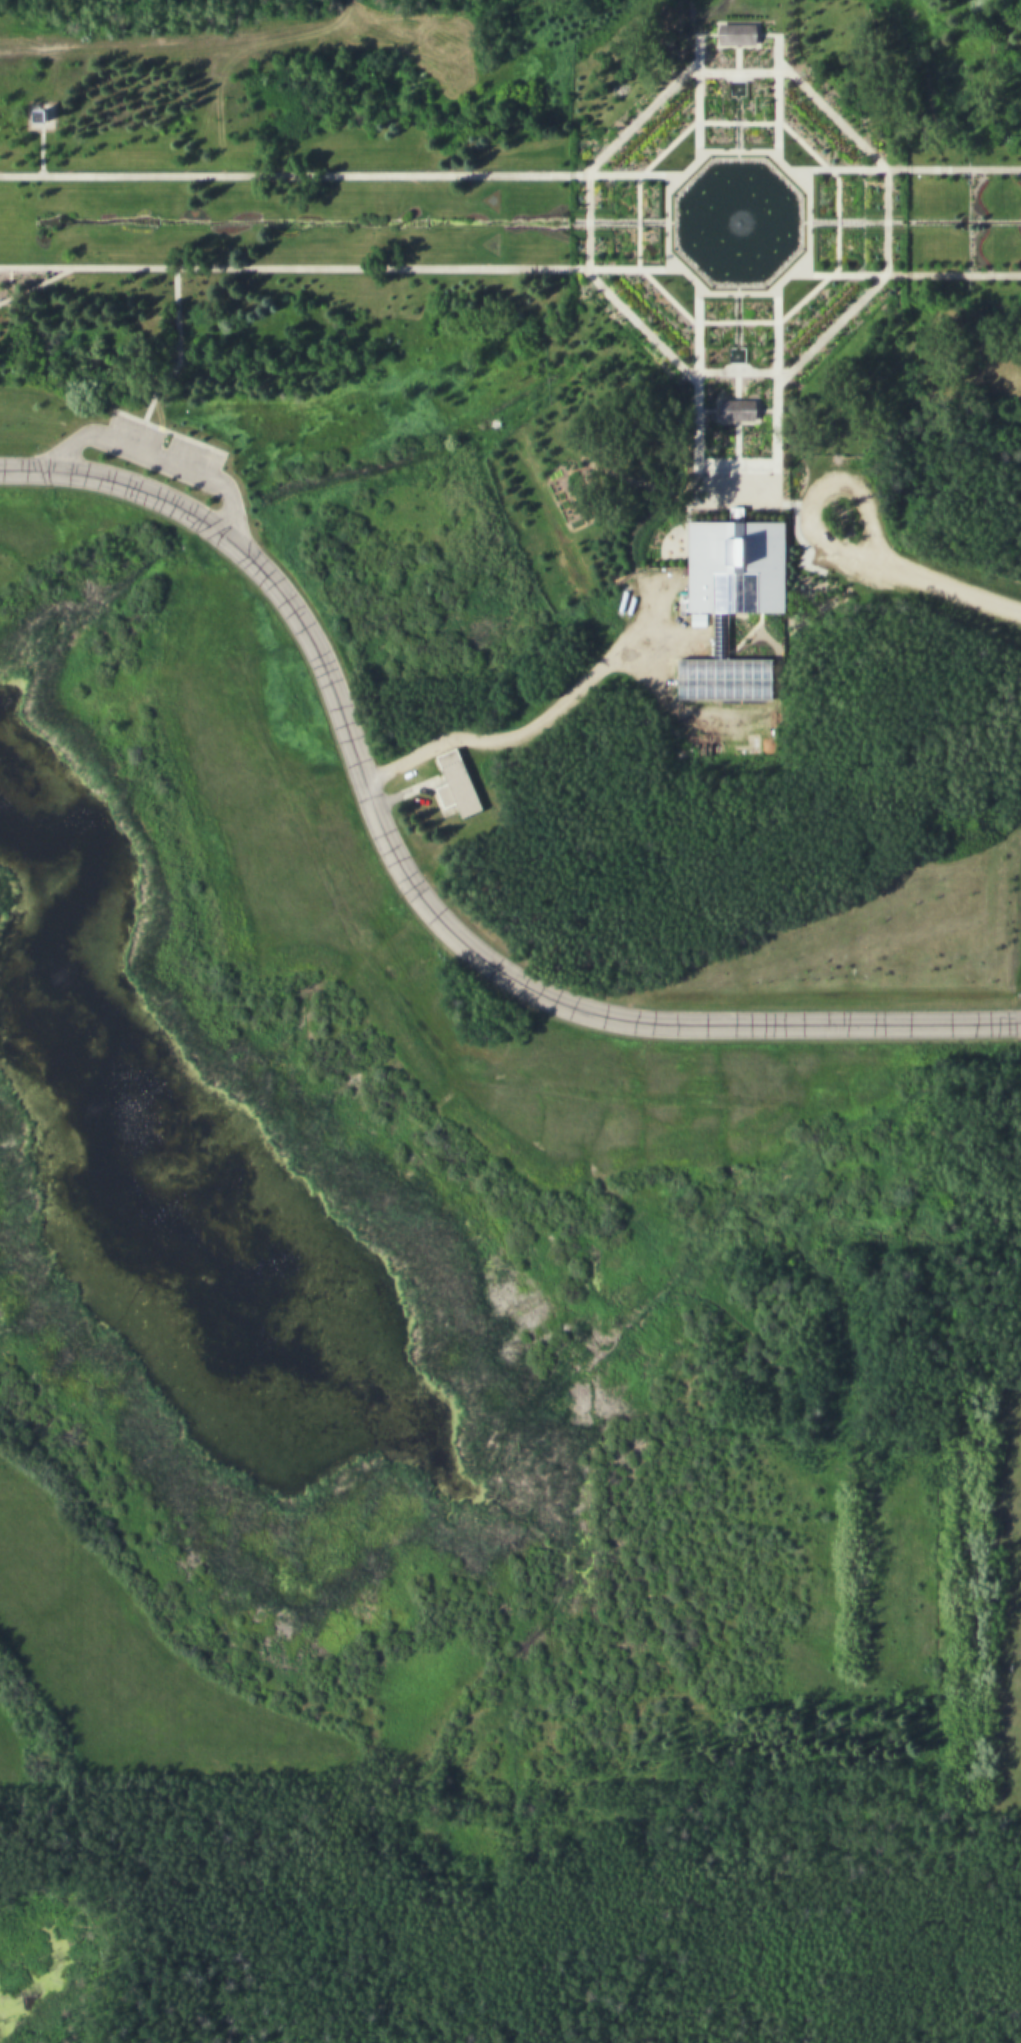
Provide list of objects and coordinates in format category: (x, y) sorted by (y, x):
building: (731, 19)
building: (736, 31)
road: (735, 44)
road: (735, 58)
road: (697, 98)
road: (775, 99)
building: (42, 116)
road: (42, 153)
road: (518, 174)
road: (669, 220)
road: (805, 222)
fountain: (737, 225)
road: (518, 268)
road: (886, 269)
road: (37, 284)
road: (177, 362)
building: (739, 409)
road: (736, 410)
road: (736, 420)
road: (158, 456)
road: (734, 469)
road: (820, 490)
road: (776, 502)
road: (82, 537)
building: (739, 568)
road: (948, 587)
building: (725, 685)
road: (532, 730)
building: (461, 789)
road: (415, 887)
park: (510, 1021)

